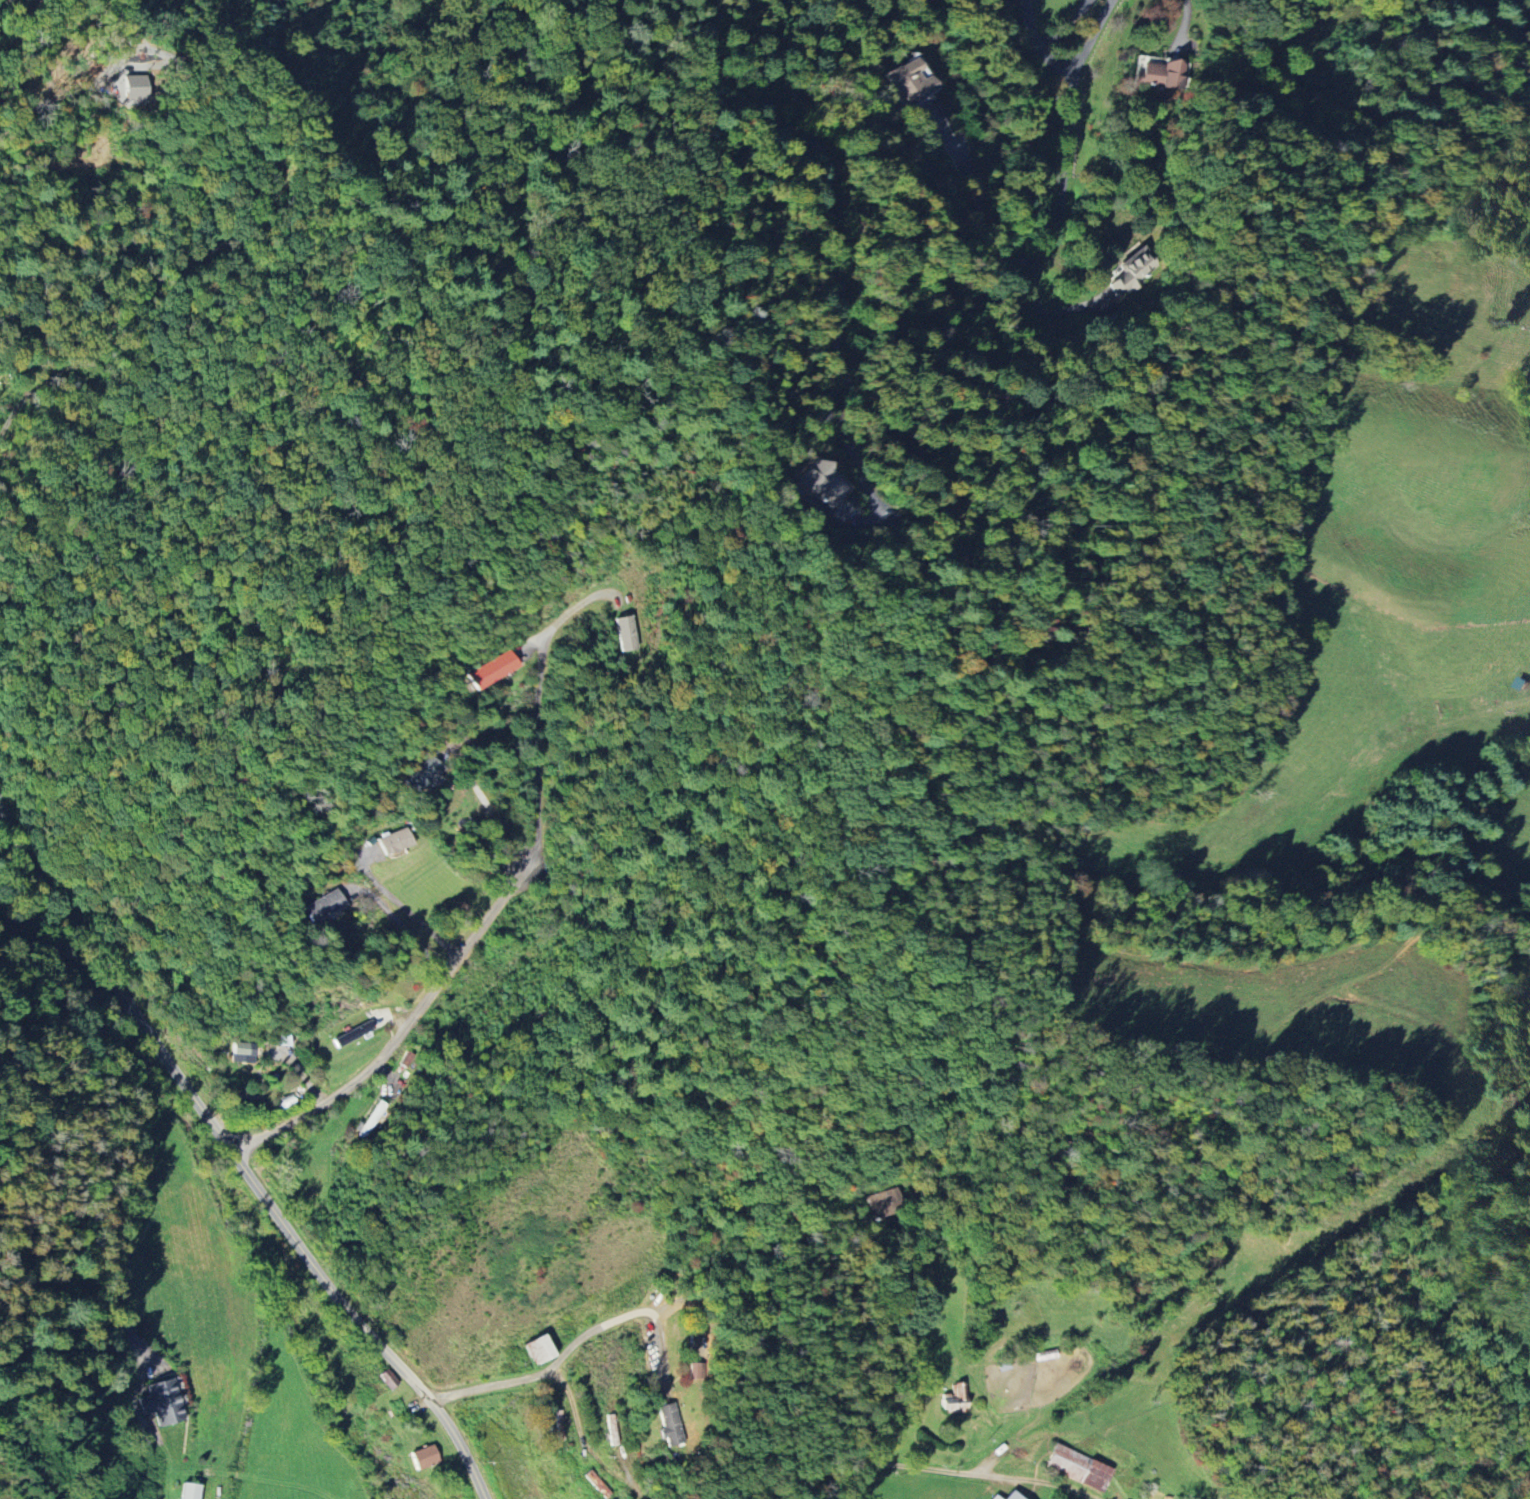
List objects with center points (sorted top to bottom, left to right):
road: (1088, 36)
road: (1037, 42)
building: (906, 82)
road: (806, 95)
road: (277, 181)
building: (1130, 273)
building: (823, 488)
building: (491, 670)
road: (537, 698)
building: (422, 776)
road: (2, 814)
building: (393, 841)
building: (323, 905)
road: (399, 909)
road: (404, 1030)
building: (352, 1035)
building: (241, 1052)
road: (237, 1155)
road: (572, 1346)
building: (537, 1349)
building: (695, 1370)
building: (387, 1379)
building: (953, 1399)
building: (161, 1402)
building: (558, 1425)
building: (669, 1425)
building: (611, 1430)
building: (423, 1456)
building: (1077, 1467)
road: (958, 1471)
building: (596, 1484)
building: (188, 1491)
building: (1012, 1495)
building: (994, 1497)

